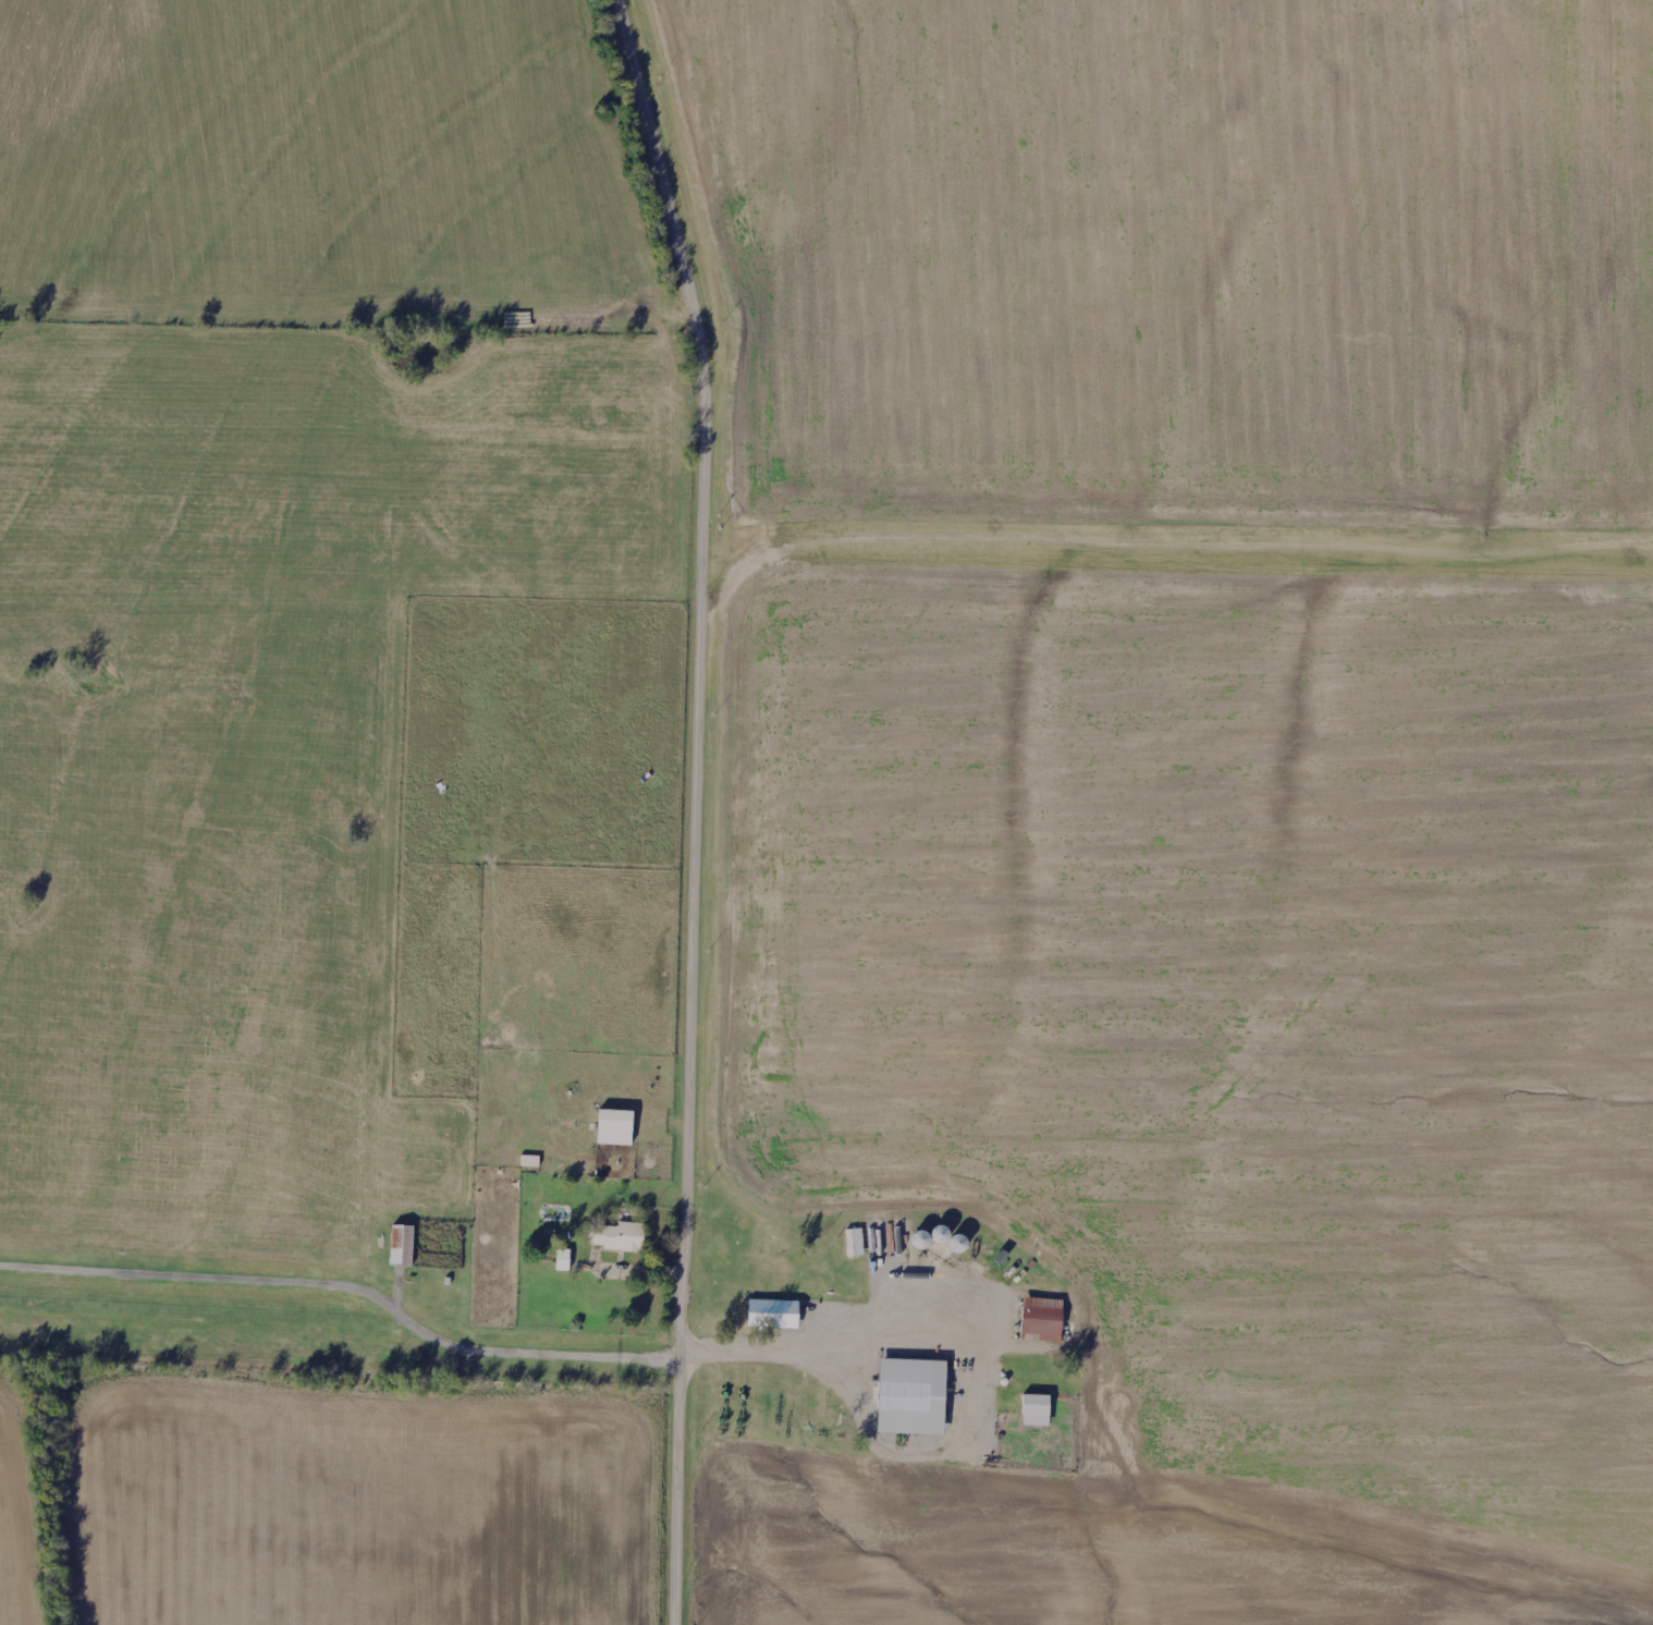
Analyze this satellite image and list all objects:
road: (702, 806)
building: (613, 1127)
building: (529, 1161)
building: (615, 1236)
building: (854, 1242)
building: (400, 1246)
building: (770, 1315)
building: (1041, 1318)
road: (977, 1358)
building: (909, 1396)
building: (1034, 1410)

